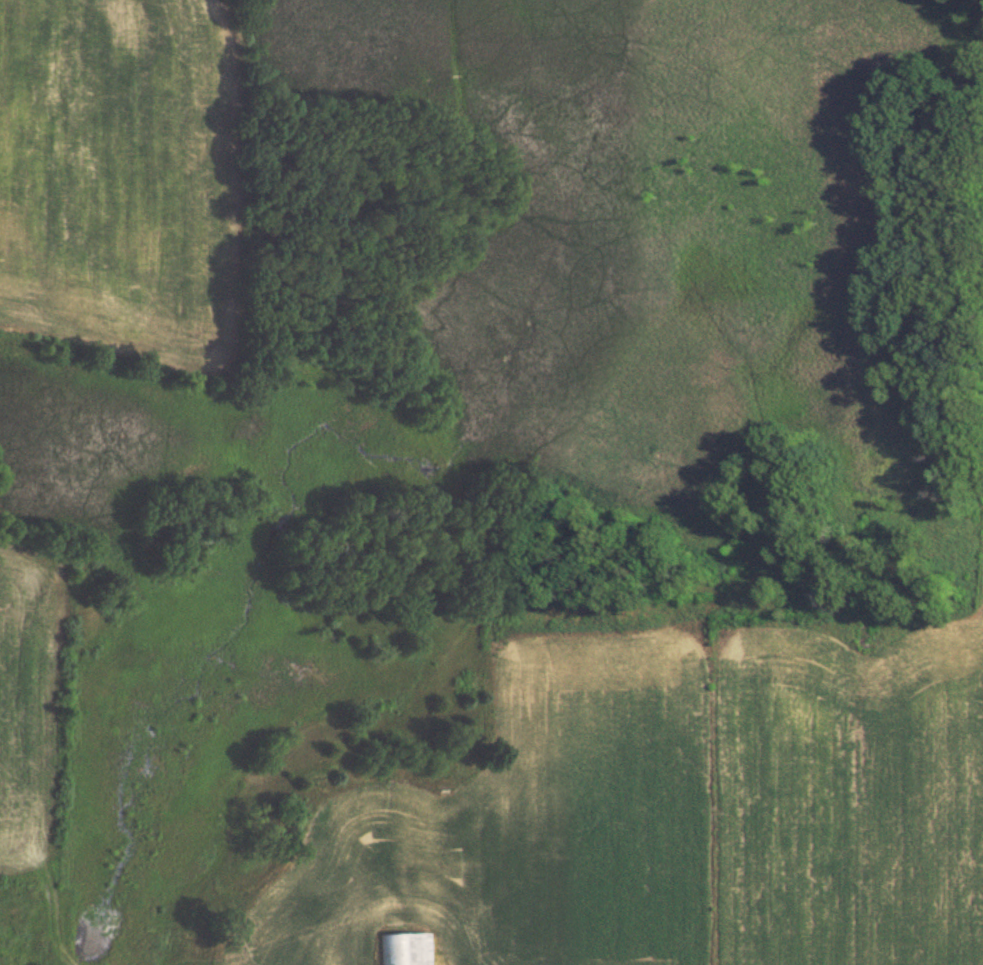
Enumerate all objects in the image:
building: (404, 949)

